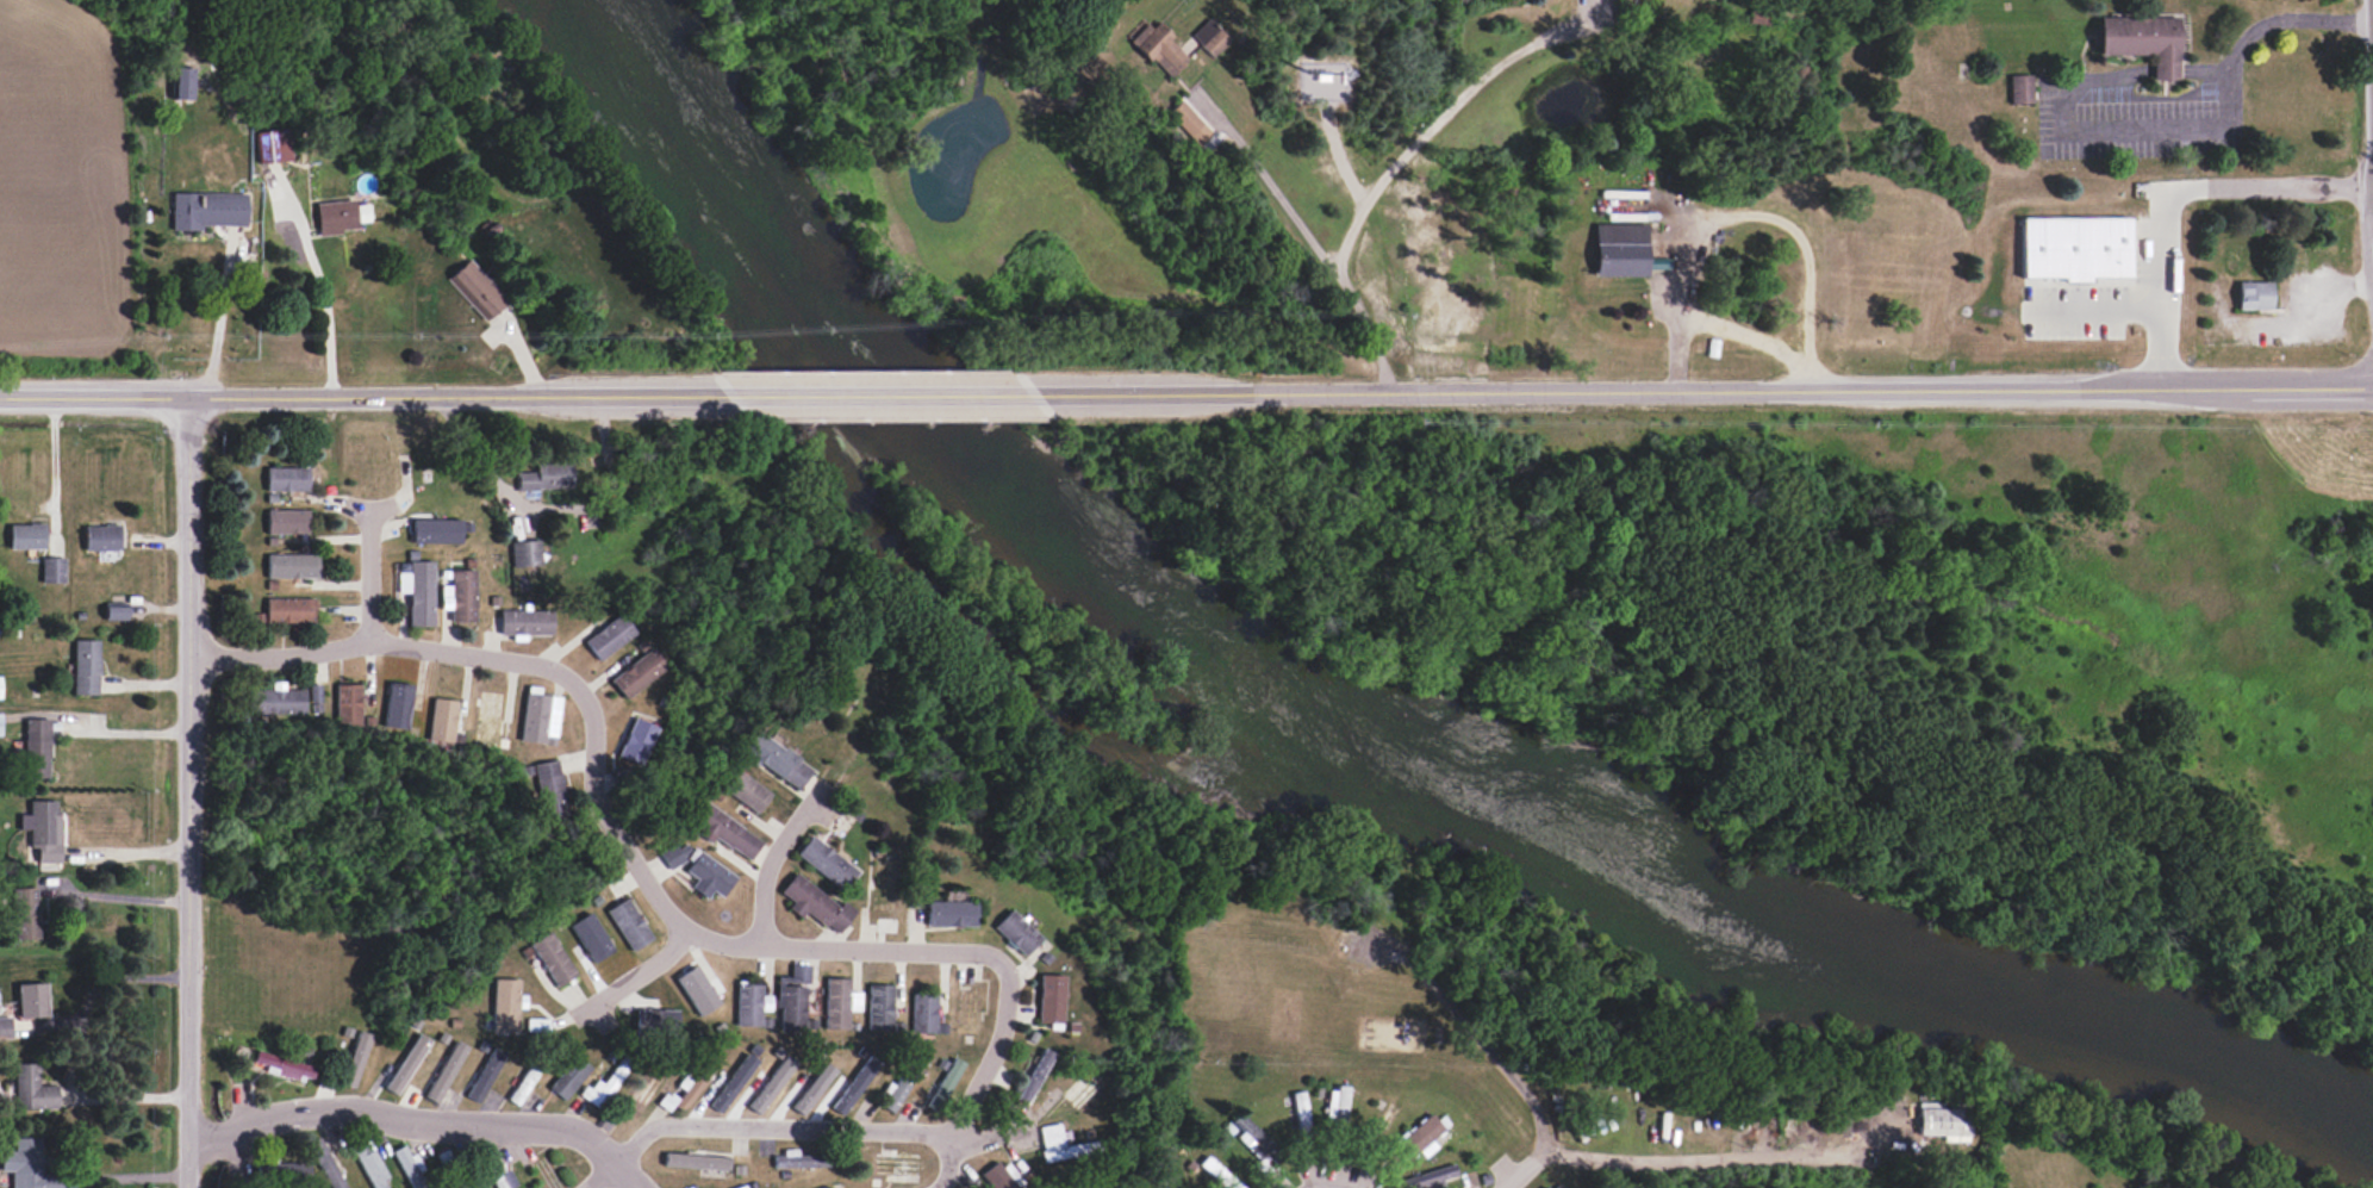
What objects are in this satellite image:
building: (1757, 15)
building: (2142, 41)
building: (1160, 48)
building: (180, 82)
building: (2019, 88)
road: (2231, 110)
building: (272, 145)
road: (1270, 182)
road: (1374, 192)
road: (2181, 205)
building: (207, 210)
building: (340, 216)
building: (2074, 247)
building: (1620, 249)
building: (474, 288)
road: (319, 291)
building: (2253, 294)
road: (2311, 297)
road: (2093, 310)
road: (218, 322)
road: (1698, 391)
road: (880, 399)
road: (368, 402)
road: (54, 473)
building: (543, 477)
building: (286, 478)
road: (550, 509)
building: (286, 521)
building: (435, 530)
building: (26, 536)
building: (101, 537)
building: (524, 552)
building: (292, 565)
building: (52, 570)
road: (368, 570)
building: (418, 591)
building: (460, 595)
building: (288, 609)
building: (114, 612)
building: (524, 622)
building: (608, 636)
building: (85, 666)
building: (637, 672)
river: (1359, 685)
building: (0, 686)
building: (314, 692)
building: (278, 699)
building: (347, 703)
building: (397, 705)
building: (487, 717)
building: (442, 720)
building: (0, 723)
road: (124, 733)
building: (636, 740)
building: (37, 747)
building: (777, 761)
building: (548, 789)
building: (745, 791)
road: (192, 795)
building: (44, 829)
building: (724, 831)
road: (127, 854)
building: (669, 856)
road: (770, 859)
building: (826, 862)
building: (708, 876)
road: (117, 897)
building: (814, 903)
building: (25, 913)
building: (949, 913)
building: (627, 923)
building: (1015, 932)
building: (594, 933)
road: (797, 948)
building: (579, 956)
building: (552, 958)
road: (631, 974)
road: (101, 982)
building: (696, 990)
building: (791, 997)
building: (1050, 997)
building: (32, 1000)
building: (839, 1002)
building: (505, 1003)
building: (749, 1003)
building: (879, 1007)
building: (923, 1013)
building: (654, 1018)
building: (5, 1027)
road: (1472, 1033)
building: (355, 1058)
building: (406, 1063)
building: (282, 1065)
building: (444, 1071)
building: (485, 1075)
building: (567, 1077)
building: (1028, 1077)
building: (693, 1081)
building: (899, 1083)
building: (943, 1083)
building: (522, 1084)
building: (603, 1084)
building: (31, 1088)
building: (643, 1091)
road: (124, 1097)
building: (1335, 1105)
building: (1943, 1121)
road: (422, 1126)
building: (1250, 1136)
building: (1419, 1137)
building: (1054, 1144)
building: (798, 1159)
building: (695, 1161)
road: (1717, 1161)
building: (325, 1163)
building: (893, 1163)
road: (947, 1163)
building: (27, 1165)
building: (370, 1165)
building: (409, 1165)
building: (496, 1168)
road: (1525, 1169)
building: (282, 1171)
building: (1001, 1176)
road: (126, 1177)
building: (1430, 1177)
building: (741, 1187)
building: (823, 1187)
building: (1544, 1187)

